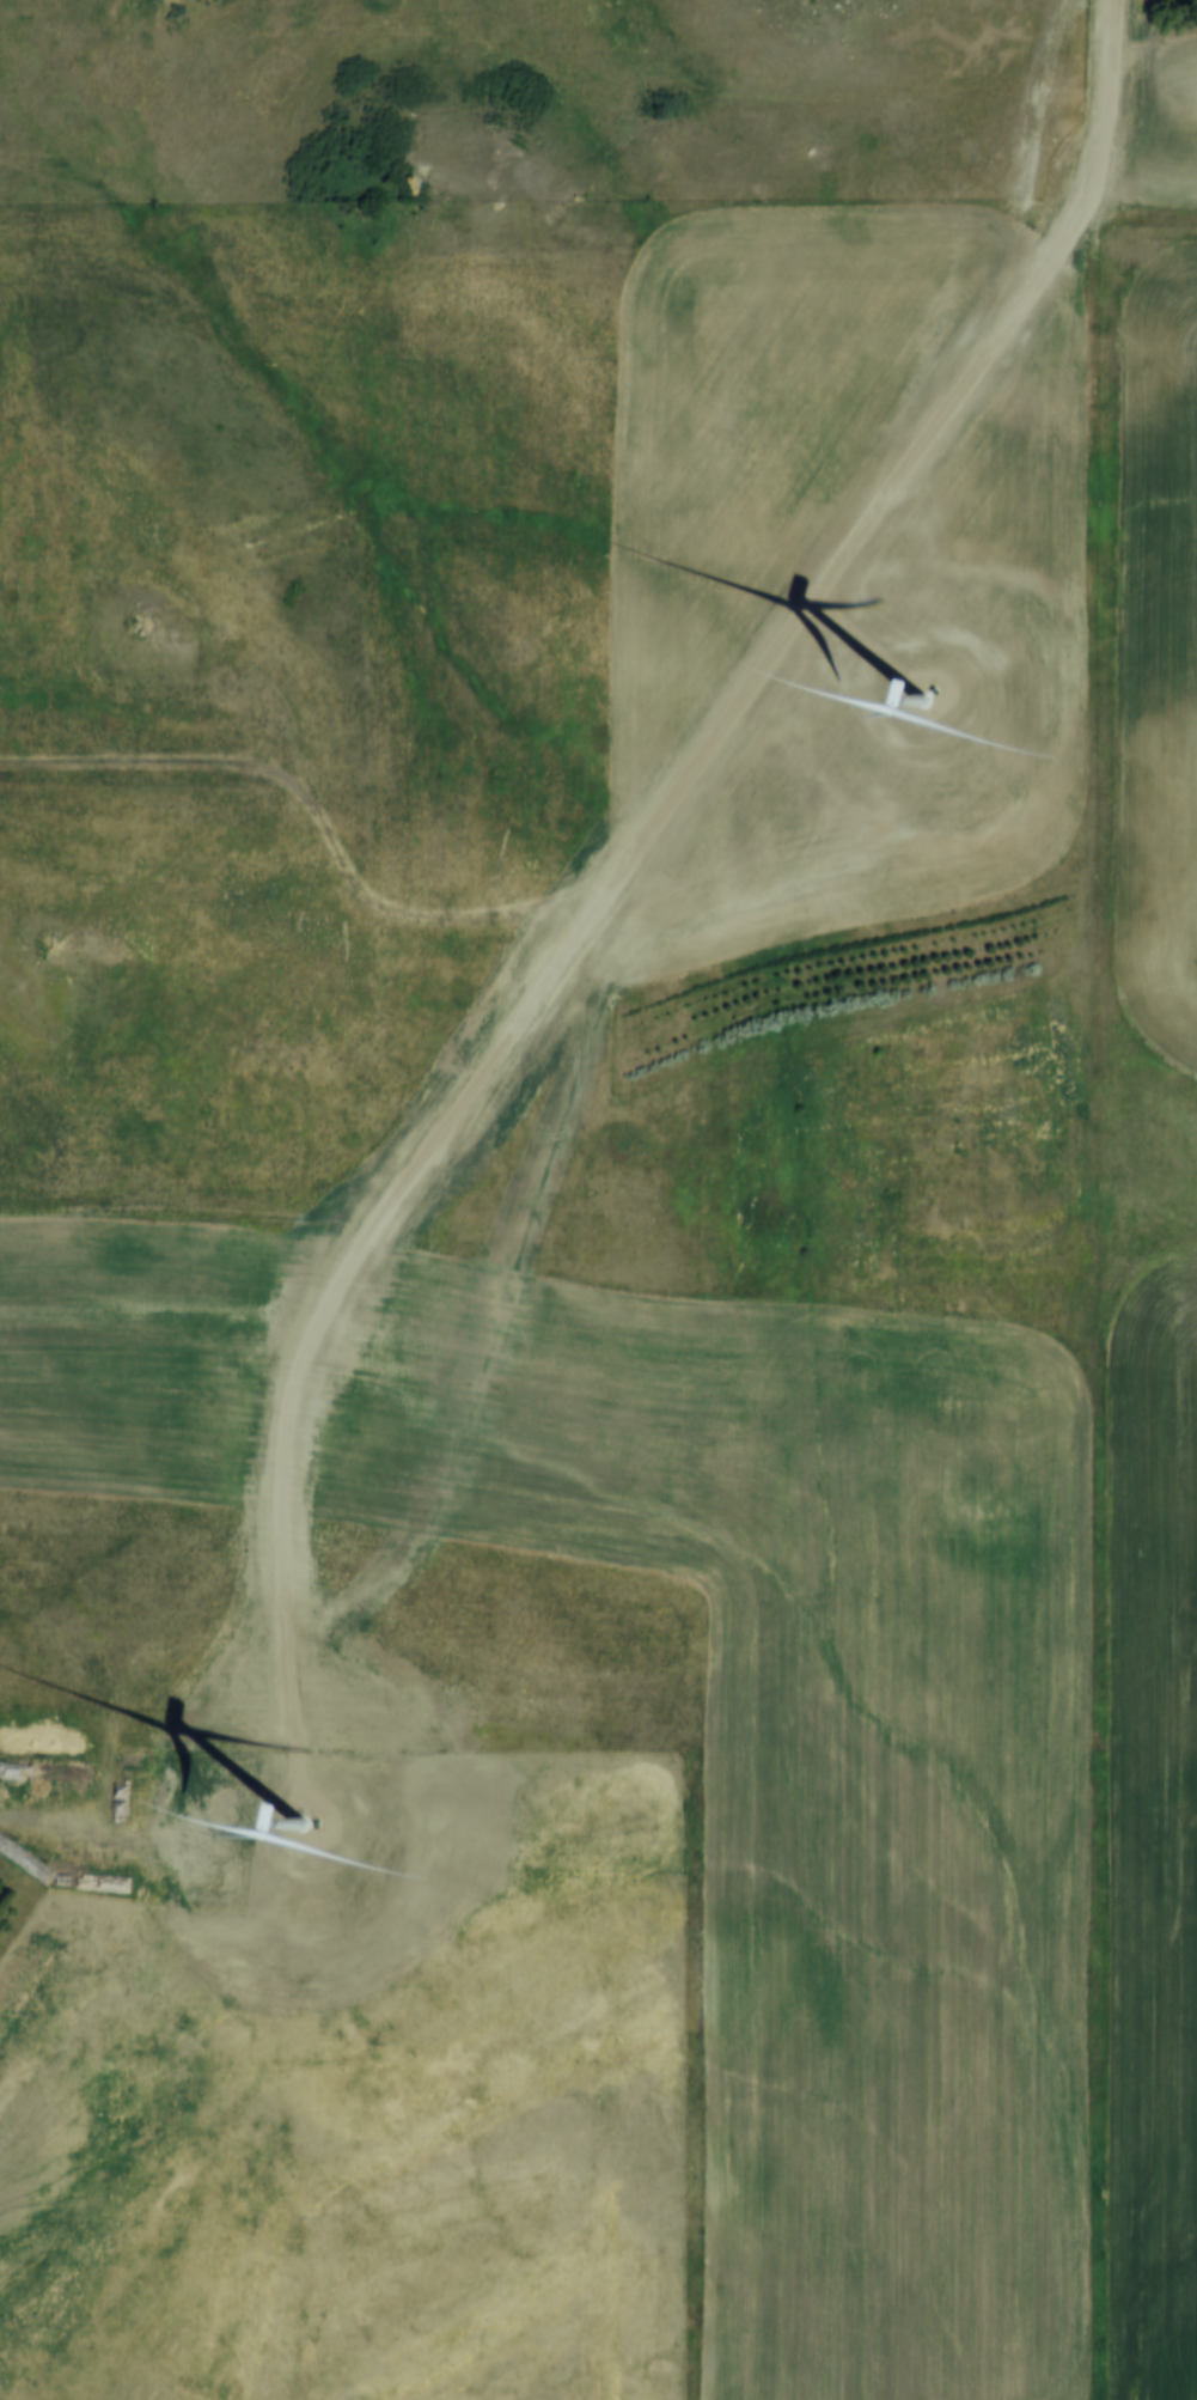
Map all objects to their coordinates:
road: (1144, 211)
wind turbine: (918, 705)
road: (655, 832)
wind turbine: (293, 1823)

